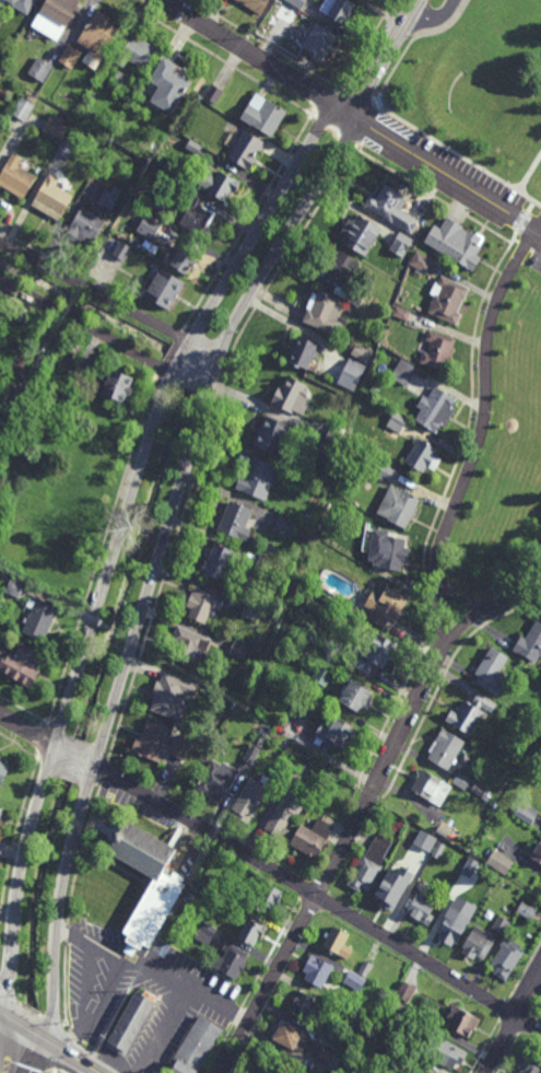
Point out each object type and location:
building: (297, 3)
building: (22, 4)
building: (255, 5)
building: (59, 11)
building: (336, 11)
road: (490, 13)
building: (0, 14)
road: (434, 16)
building: (47, 28)
road: (525, 31)
building: (97, 37)
road: (414, 40)
road: (264, 44)
building: (317, 44)
road: (365, 44)
building: (137, 54)
road: (257, 56)
road: (383, 57)
building: (69, 58)
road: (217, 58)
building: (39, 70)
building: (122, 81)
building: (168, 86)
building: (213, 93)
road: (357, 95)
road: (326, 102)
building: (23, 107)
building: (262, 112)
road: (368, 126)
building: (57, 127)
road: (336, 130)
building: (154, 145)
building: (192, 145)
building: (67, 148)
building: (246, 148)
road: (457, 154)
road: (445, 174)
road: (530, 175)
building: (16, 176)
parking lot: (474, 178)
building: (217, 183)
road: (435, 195)
building: (52, 198)
building: (387, 201)
building: (197, 215)
building: (92, 220)
road: (262, 221)
building: (409, 222)
road: (525, 223)
road: (248, 224)
building: (150, 225)
building: (360, 233)
building: (456, 242)
building: (401, 244)
building: (121, 249)
building: (183, 258)
road: (55, 260)
building: (421, 260)
parking lot: (530, 261)
building: (340, 267)
building: (166, 288)
road: (108, 294)
building: (354, 296)
road: (109, 300)
building: (448, 300)
road: (30, 308)
building: (324, 311)
building: (401, 312)
road: (61, 320)
road: (104, 338)
building: (438, 349)
building: (361, 352)
road: (169, 353)
building: (304, 353)
building: (19, 355)
road: (180, 358)
building: (404, 372)
building: (351, 374)
building: (78, 375)
building: (118, 384)
building: (292, 396)
building: (436, 409)
building: (398, 422)
building: (336, 433)
road: (480, 434)
building: (272, 435)
road: (205, 441)
building: (327, 450)
building: (423, 456)
building: (388, 473)
building: (258, 478)
building: (320, 489)
building: (398, 506)
road: (436, 518)
building: (237, 522)
building: (319, 522)
building: (285, 526)
road: (102, 549)
building: (388, 550)
building: (221, 562)
building: (46, 564)
building: (264, 564)
road: (156, 565)
building: (15, 588)
building: (297, 595)
road: (496, 599)
building: (203, 604)
building: (386, 607)
building: (252, 610)
building: (268, 615)
building: (38, 619)
building: (530, 644)
building: (190, 646)
building: (239, 650)
building: (376, 653)
building: (21, 665)
building: (492, 670)
road: (447, 674)
building: (321, 677)
road: (70, 691)
building: (172, 696)
building: (356, 699)
building: (234, 705)
road: (24, 710)
building: (307, 710)
building: (471, 715)
road: (57, 728)
road: (31, 732)
building: (336, 735)
road: (42, 740)
road: (77, 742)
building: (160, 744)
building: (540, 744)
road: (19, 746)
building: (262, 747)
building: (446, 750)
road: (97, 754)
road: (74, 755)
building: (252, 755)
road: (47, 761)
road: (70, 770)
building: (3, 771)
road: (105, 771)
building: (296, 777)
road: (92, 778)
building: (220, 778)
building: (462, 780)
building: (432, 788)
road: (371, 792)
building: (252, 796)
building: (494, 803)
building: (1, 810)
building: (286, 810)
building: (526, 812)
building: (443, 830)
building: (311, 836)
road: (337, 836)
road: (13, 840)
building: (424, 841)
building: (537, 850)
building: (444, 852)
road: (337, 860)
building: (499, 861)
building: (371, 862)
building: (472, 867)
building: (195, 886)
road: (303, 889)
building: (390, 889)
road: (315, 895)
building: (454, 896)
building: (189, 897)
building: (268, 897)
road: (70, 906)
building: (422, 908)
building: (527, 909)
building: (153, 910)
building: (501, 923)
building: (451, 926)
building: (252, 930)
building: (207, 932)
building: (336, 938)
building: (479, 943)
road: (90, 946)
building: (507, 957)
building: (232, 959)
building: (365, 967)
building: (318, 970)
road: (524, 972)
building: (354, 980)
road: (254, 985)
road: (186, 989)
building: (405, 991)
building: (303, 1003)
road: (536, 1004)
road: (96, 1011)
building: (331, 1011)
road: (504, 1011)
road: (36, 1013)
road: (3, 1016)
traffic signals: (7, 1018)
building: (463, 1019)
building: (132, 1022)
road: (513, 1022)
road: (524, 1024)
road: (162, 1030)
road: (30, 1034)
building: (290, 1035)
road: (7, 1046)
building: (198, 1046)
road: (484, 1046)
building: (400, 1047)
traffic signals: (54, 1049)
building: (445, 1050)
road: (106, 1053)
road: (508, 1054)
building: (329, 1058)
road: (36, 1059)
road: (22, 1060)
road: (73, 1060)
building: (530, 1062)
building: (421, 1070)

